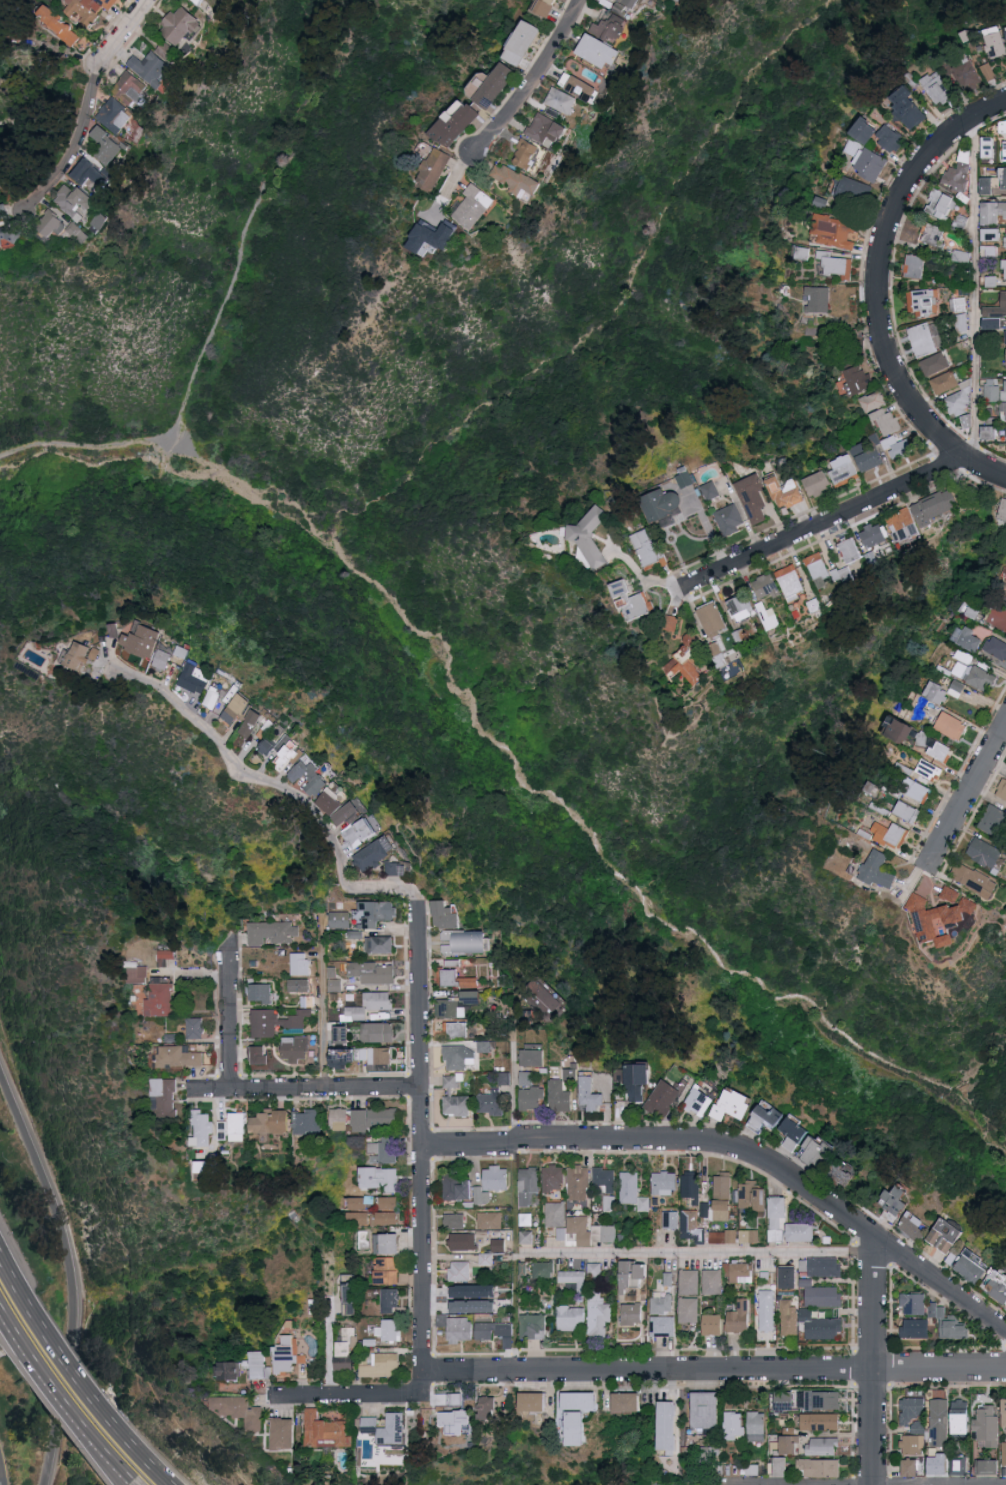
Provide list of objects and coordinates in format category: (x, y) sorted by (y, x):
building: (679, 0)
building: (199, 1)
building: (204, 1)
building: (628, 3)
building: (542, 7)
building: (87, 9)
building: (58, 25)
building: (179, 25)
building: (521, 43)
building: (598, 45)
building: (994, 45)
building: (167, 50)
building: (149, 68)
building: (987, 72)
building: (966, 75)
road: (534, 82)
building: (491, 86)
building: (577, 87)
building: (935, 89)
building: (130, 90)
building: (561, 101)
road: (90, 106)
building: (907, 109)
building: (113, 116)
building: (454, 123)
building: (1003, 126)
building: (544, 129)
building: (864, 130)
building: (889, 138)
building: (106, 145)
building: (987, 148)
building: (1004, 151)
building: (524, 154)
building: (869, 164)
building: (432, 169)
building: (957, 173)
building: (91, 174)
building: (514, 180)
building: (992, 182)
road: (449, 183)
building: (852, 191)
building: (74, 202)
building: (939, 204)
building: (471, 207)
building: (4, 211)
building: (993, 212)
building: (959, 222)
building: (56, 226)
building: (833, 232)
building: (10, 234)
building: (434, 234)
building: (930, 234)
building: (989, 235)
building: (1005, 239)
building: (992, 249)
building: (801, 253)
building: (961, 256)
building: (836, 263)
building: (914, 266)
road: (880, 270)
building: (1004, 270)
building: (992, 280)
road: (978, 293)
building: (816, 300)
building: (922, 303)
building: (958, 304)
building: (996, 307)
building: (962, 321)
building: (994, 323)
building: (1005, 336)
building: (922, 340)
building: (934, 364)
building: (856, 379)
building: (943, 383)
building: (992, 389)
building: (1004, 390)
building: (873, 402)
building: (958, 403)
building: (1003, 411)
building: (966, 421)
building: (885, 422)
building: (988, 433)
road: (86, 447)
building: (899, 449)
building: (866, 457)
building: (841, 469)
building: (683, 477)
building: (816, 484)
building: (710, 490)
building: (783, 492)
building: (752, 500)
building: (660, 504)
building: (934, 506)
building: (1002, 513)
road: (845, 514)
building: (728, 520)
building: (902, 525)
building: (871, 536)
building: (584, 544)
building: (645, 548)
building: (846, 559)
building: (817, 568)
road: (643, 576)
building: (790, 582)
building: (765, 586)
building: (630, 601)
building: (740, 608)
building: (997, 618)
building: (712, 619)
building: (668, 623)
building: (971, 635)
building: (153, 638)
building: (995, 648)
building: (103, 651)
building: (84, 654)
building: (964, 655)
building: (173, 656)
building: (686, 662)
building: (973, 676)
building: (204, 677)
building: (222, 695)
building: (932, 696)
building: (246, 706)
building: (262, 721)
building: (949, 726)
building: (900, 731)
building: (293, 750)
building: (938, 751)
building: (928, 770)
building: (313, 771)
building: (327, 784)
building: (1001, 790)
building: (915, 791)
road: (968, 793)
building: (348, 806)
building: (905, 812)
building: (993, 821)
building: (367, 833)
building: (887, 834)
building: (983, 852)
building: (380, 853)
building: (397, 867)
building: (876, 870)
building: (973, 880)
building: (376, 912)
building: (448, 913)
building: (938, 916)
building: (340, 919)
road: (419, 930)
building: (274, 931)
building: (356, 933)
road: (322, 934)
building: (468, 940)
building: (380, 943)
building: (167, 955)
building: (300, 962)
building: (374, 971)
building: (139, 973)
building: (459, 975)
building: (335, 977)
building: (300, 984)
building: (262, 991)
building: (475, 995)
building: (162, 998)
building: (547, 998)
building: (307, 1000)
building: (369, 1005)
building: (449, 1007)
road: (229, 1017)
road: (322, 1018)
building: (273, 1021)
road: (513, 1022)
building: (196, 1027)
building: (458, 1028)
building: (379, 1031)
building: (341, 1033)
building: (487, 1044)
building: (296, 1047)
building: (258, 1052)
building: (459, 1055)
building: (182, 1056)
building: (363, 1056)
building: (533, 1056)
building: (506, 1077)
building: (528, 1077)
building: (453, 1079)
building: (640, 1079)
road: (305, 1088)
building: (564, 1090)
road: (512, 1093)
building: (591, 1094)
building: (167, 1095)
building: (534, 1097)
building: (665, 1097)
building: (701, 1100)
building: (492, 1101)
building: (734, 1103)
building: (458, 1104)
building: (377, 1117)
building: (770, 1117)
building: (342, 1118)
building: (274, 1120)
building: (311, 1120)
building: (240, 1125)
building: (204, 1128)
building: (226, 1130)
building: (797, 1132)
building: (387, 1148)
building: (816, 1150)
road: (740, 1152)
building: (210, 1166)
building: (843, 1174)
building: (382, 1177)
building: (498, 1177)
building: (553, 1177)
building: (606, 1177)
road: (513, 1178)
building: (578, 1182)
building: (665, 1182)
building: (725, 1184)
building: (528, 1186)
building: (692, 1187)
building: (465, 1189)
building: (633, 1189)
building: (755, 1197)
building: (899, 1199)
building: (609, 1201)
building: (356, 1202)
building: (390, 1202)
building: (707, 1209)
building: (725, 1209)
building: (555, 1213)
building: (780, 1216)
building: (359, 1217)
building: (390, 1217)
building: (671, 1218)
building: (456, 1219)
building: (491, 1219)
building: (693, 1225)
building: (915, 1225)
building: (591, 1230)
building: (803, 1230)
building: (947, 1234)
building: (724, 1235)
building: (751, 1235)
building: (527, 1236)
building: (464, 1240)
building: (389, 1242)
building: (500, 1244)
road: (693, 1251)
building: (488, 1258)
road: (515, 1263)
building: (827, 1265)
building: (973, 1266)
building: (544, 1268)
building: (596, 1268)
building: (390, 1269)
building: (462, 1270)
building: (740, 1271)
road: (70, 1273)
building: (635, 1275)
building: (791, 1276)
building: (574, 1277)
building: (690, 1280)
building: (713, 1280)
road: (16, 1283)
building: (999, 1286)
building: (477, 1290)
building: (823, 1293)
building: (353, 1298)
building: (392, 1299)
building: (664, 1303)
building: (917, 1303)
building: (478, 1305)
building: (691, 1309)
building: (767, 1309)
building: (635, 1312)
building: (601, 1313)
building: (741, 1316)
building: (574, 1317)
building: (790, 1317)
building: (952, 1321)
building: (716, 1323)
building: (535, 1325)
building: (666, 1325)
building: (821, 1325)
building: (919, 1327)
building: (462, 1328)
building: (390, 1329)
road: (12, 1330)
building: (499, 1331)
road: (517, 1341)
road: (330, 1348)
building: (349, 1348)
building: (291, 1357)
road: (871, 1358)
road: (66, 1363)
building: (386, 1364)
building: (261, 1365)
building: (231, 1368)
road: (716, 1370)
road: (426, 1380)
road: (56, 1393)
building: (460, 1398)
road: (350, 1399)
building: (820, 1399)
building: (786, 1400)
building: (538, 1401)
building: (630, 1401)
building: (492, 1406)
building: (241, 1409)
building: (707, 1409)
building: (916, 1412)
building: (584, 1413)
building: (966, 1416)
building: (460, 1420)
building: (823, 1421)
building: (942, 1421)
building: (374, 1424)
building: (737, 1424)
building: (669, 1425)
building: (759, 1425)
building: (399, 1428)
building: (328, 1430)
building: (286, 1432)
road: (92, 1440)
building: (916, 1443)
building: (793, 1444)
building: (824, 1445)
road: (137, 1449)
building: (711, 1453)
road: (118, 1464)
building: (962, 1464)
road: (109, 1465)
building: (784, 1466)
building: (821, 1466)
building: (991, 1466)
building: (914, 1467)
building: (754, 1468)
road: (862, 1481)

